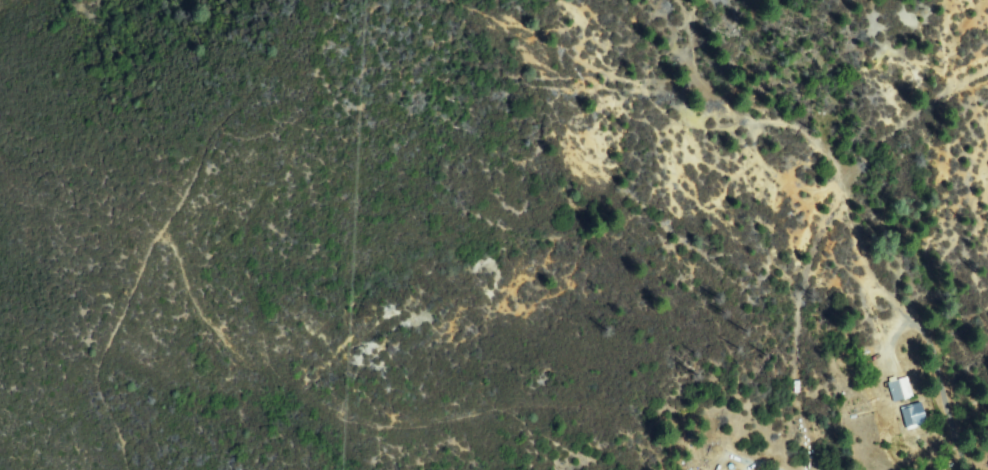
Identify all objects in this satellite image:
road: (824, 238)
building: (901, 391)
building: (914, 417)
road: (984, 420)

